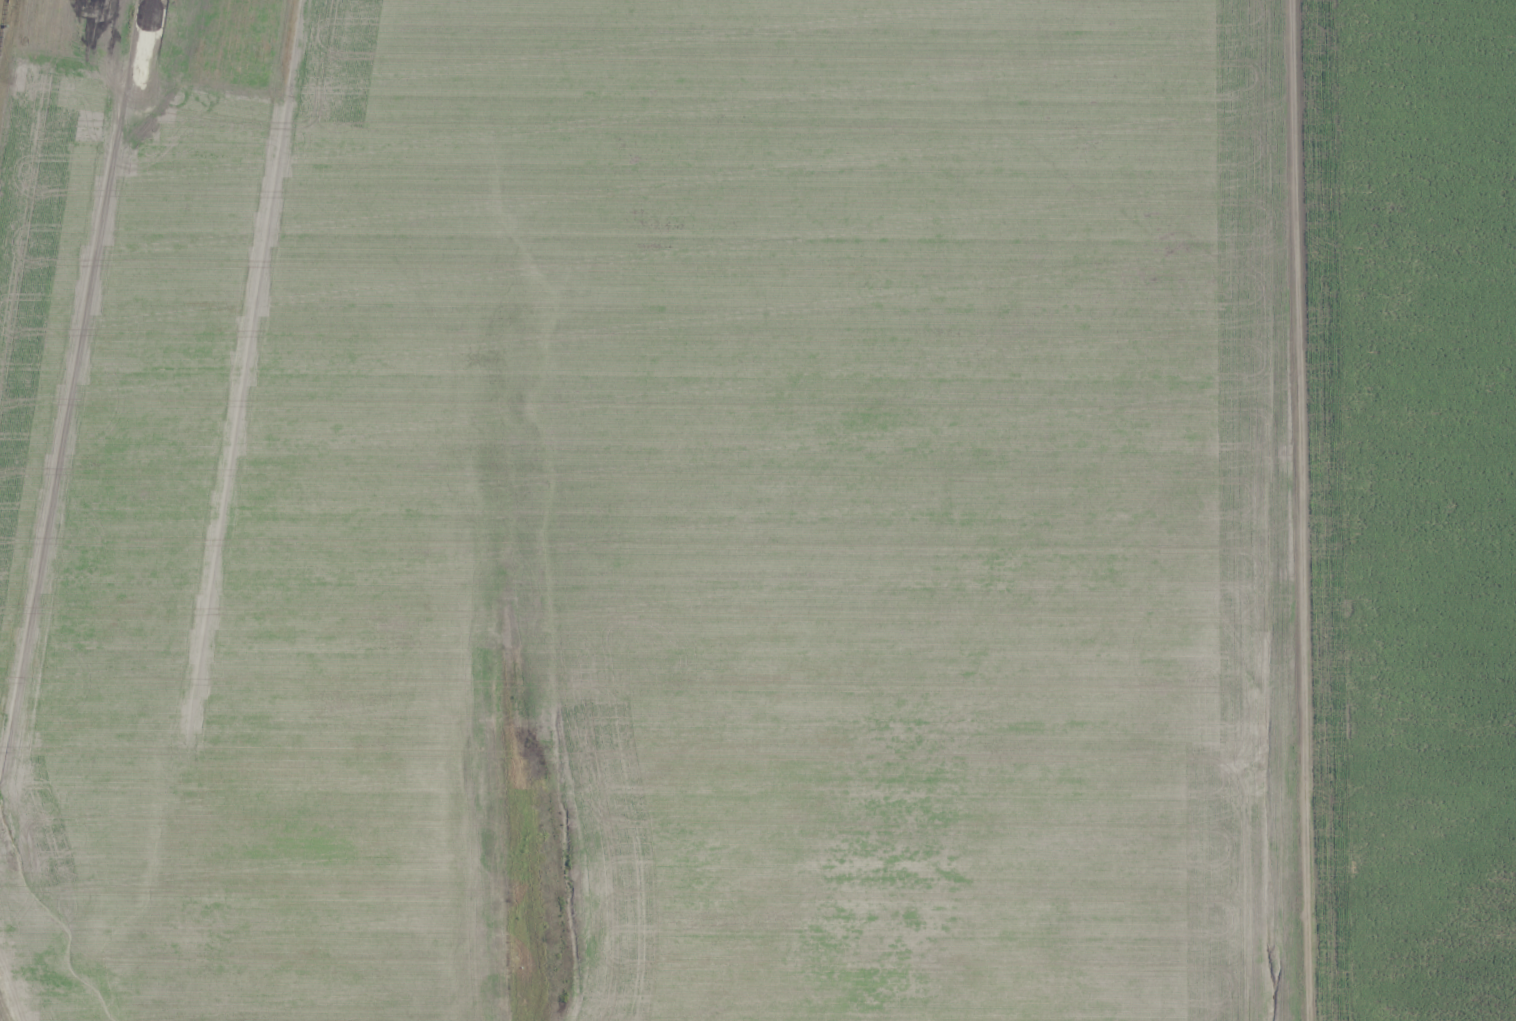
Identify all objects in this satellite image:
crop: (758, 510)

